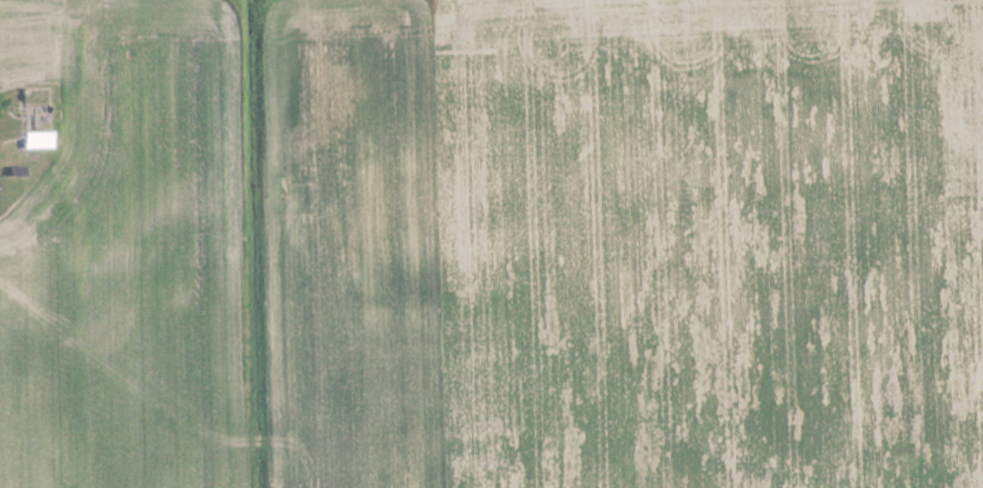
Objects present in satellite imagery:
building: (35, 141)

